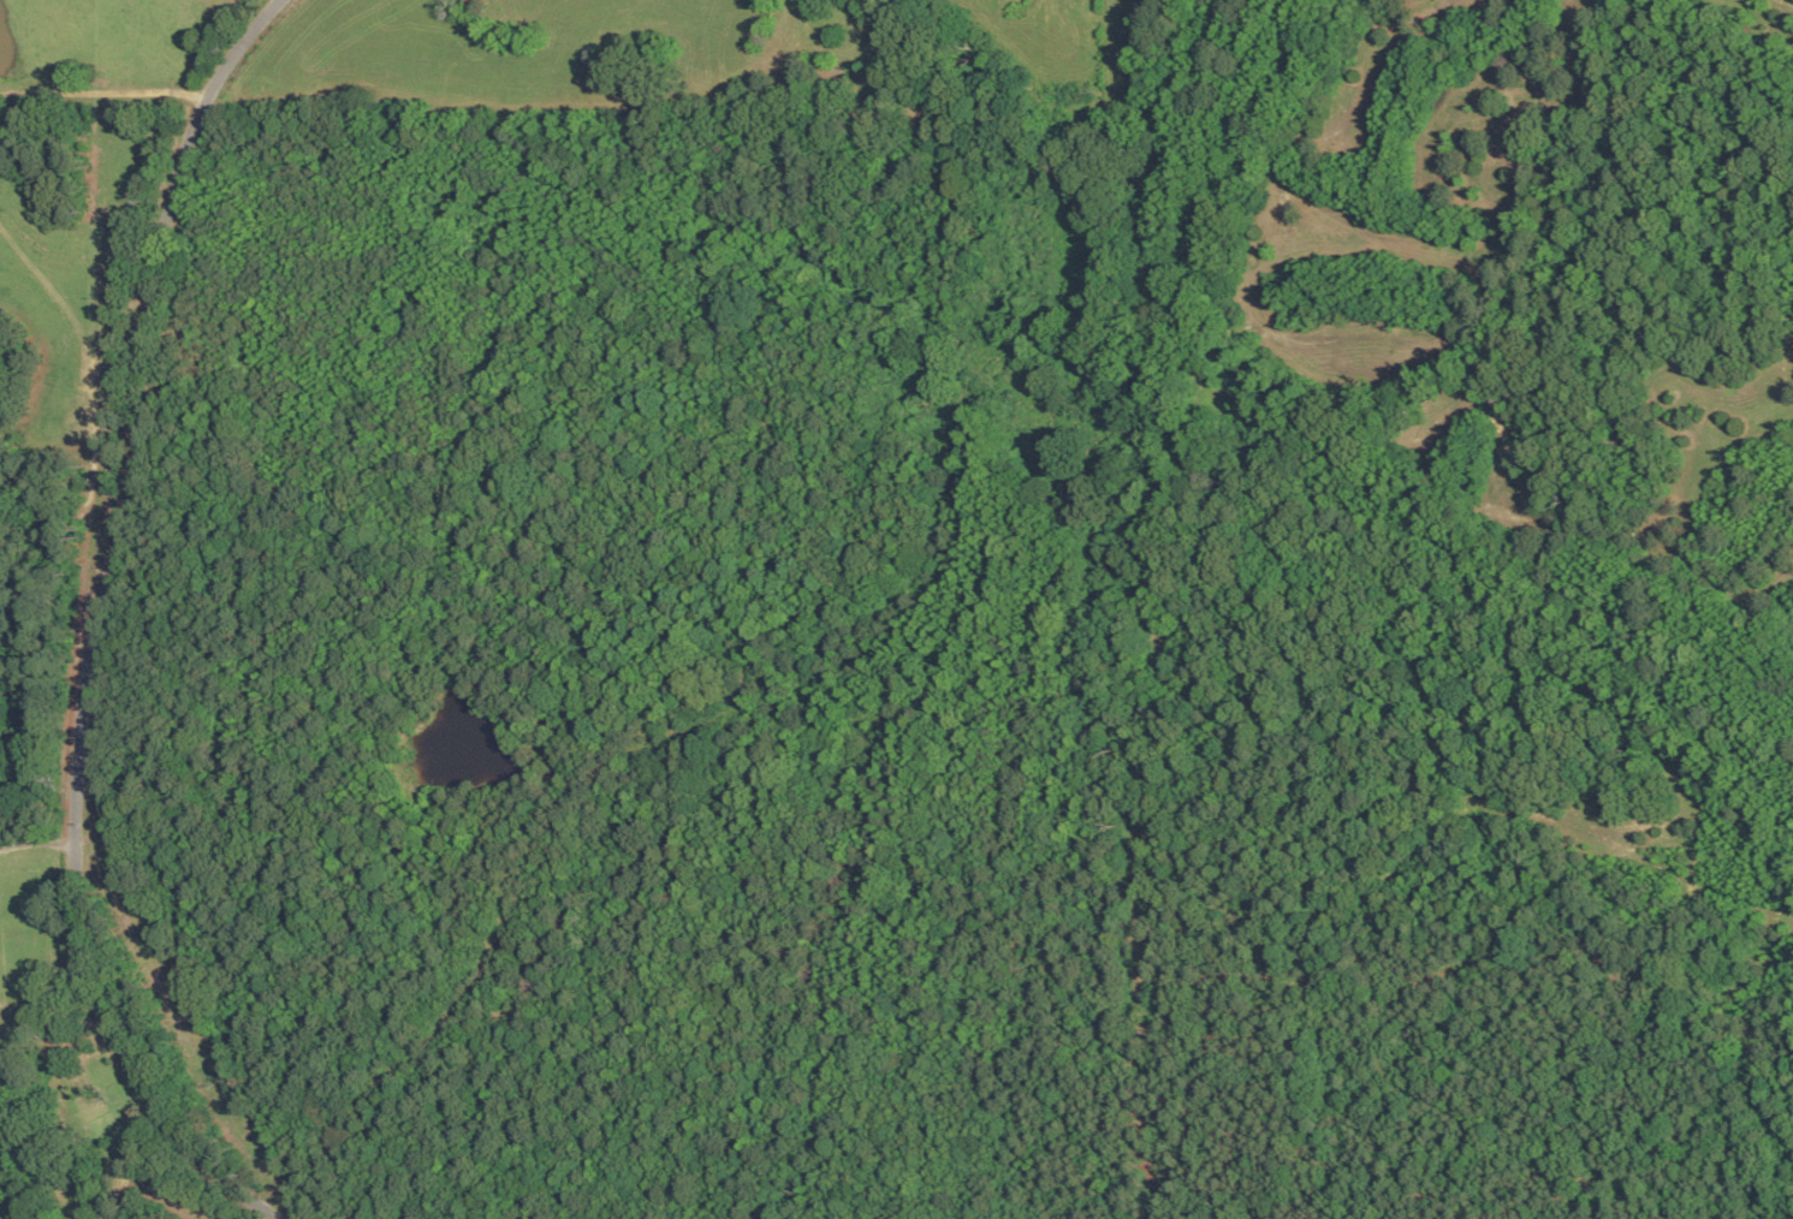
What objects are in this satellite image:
building: (479, 2)
road: (95, 626)
road: (37, 844)
building: (94, 1105)

